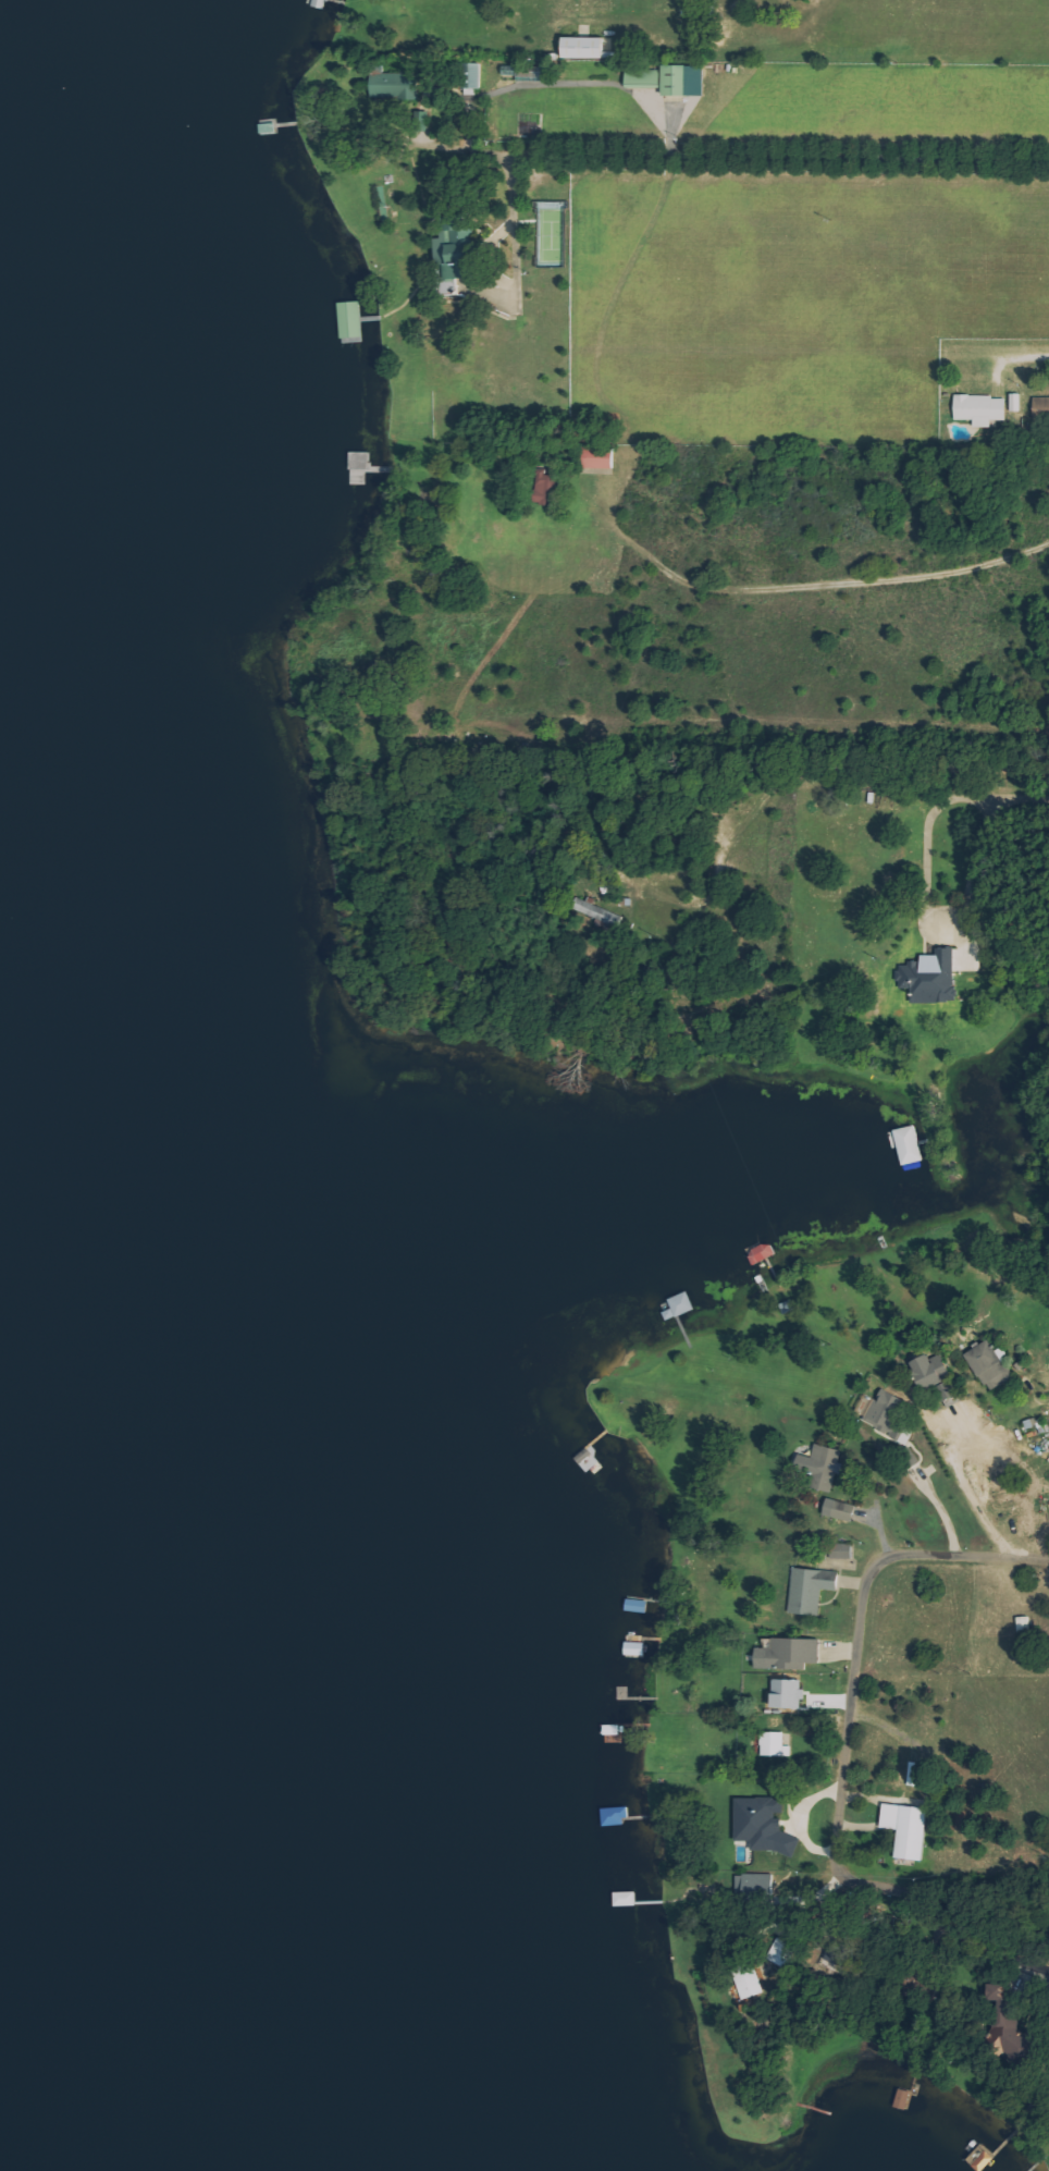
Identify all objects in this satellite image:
building: (587, 49)
building: (472, 76)
building: (645, 76)
building: (687, 81)
building: (395, 85)
building: (458, 249)
building: (1016, 402)
building: (983, 408)
building: (601, 457)
building: (548, 488)
building: (601, 915)
building: (931, 977)
building: (911, 1145)
building: (763, 1253)
building: (991, 1365)
building: (937, 1378)
building: (885, 1409)
building: (985, 1443)
building: (824, 1465)
building: (841, 1509)
building: (843, 1550)
building: (813, 1587)
building: (791, 1653)
road: (842, 1750)
building: (915, 1774)
building: (616, 1816)
building: (765, 1824)
building: (908, 1828)
building: (1008, 2022)

